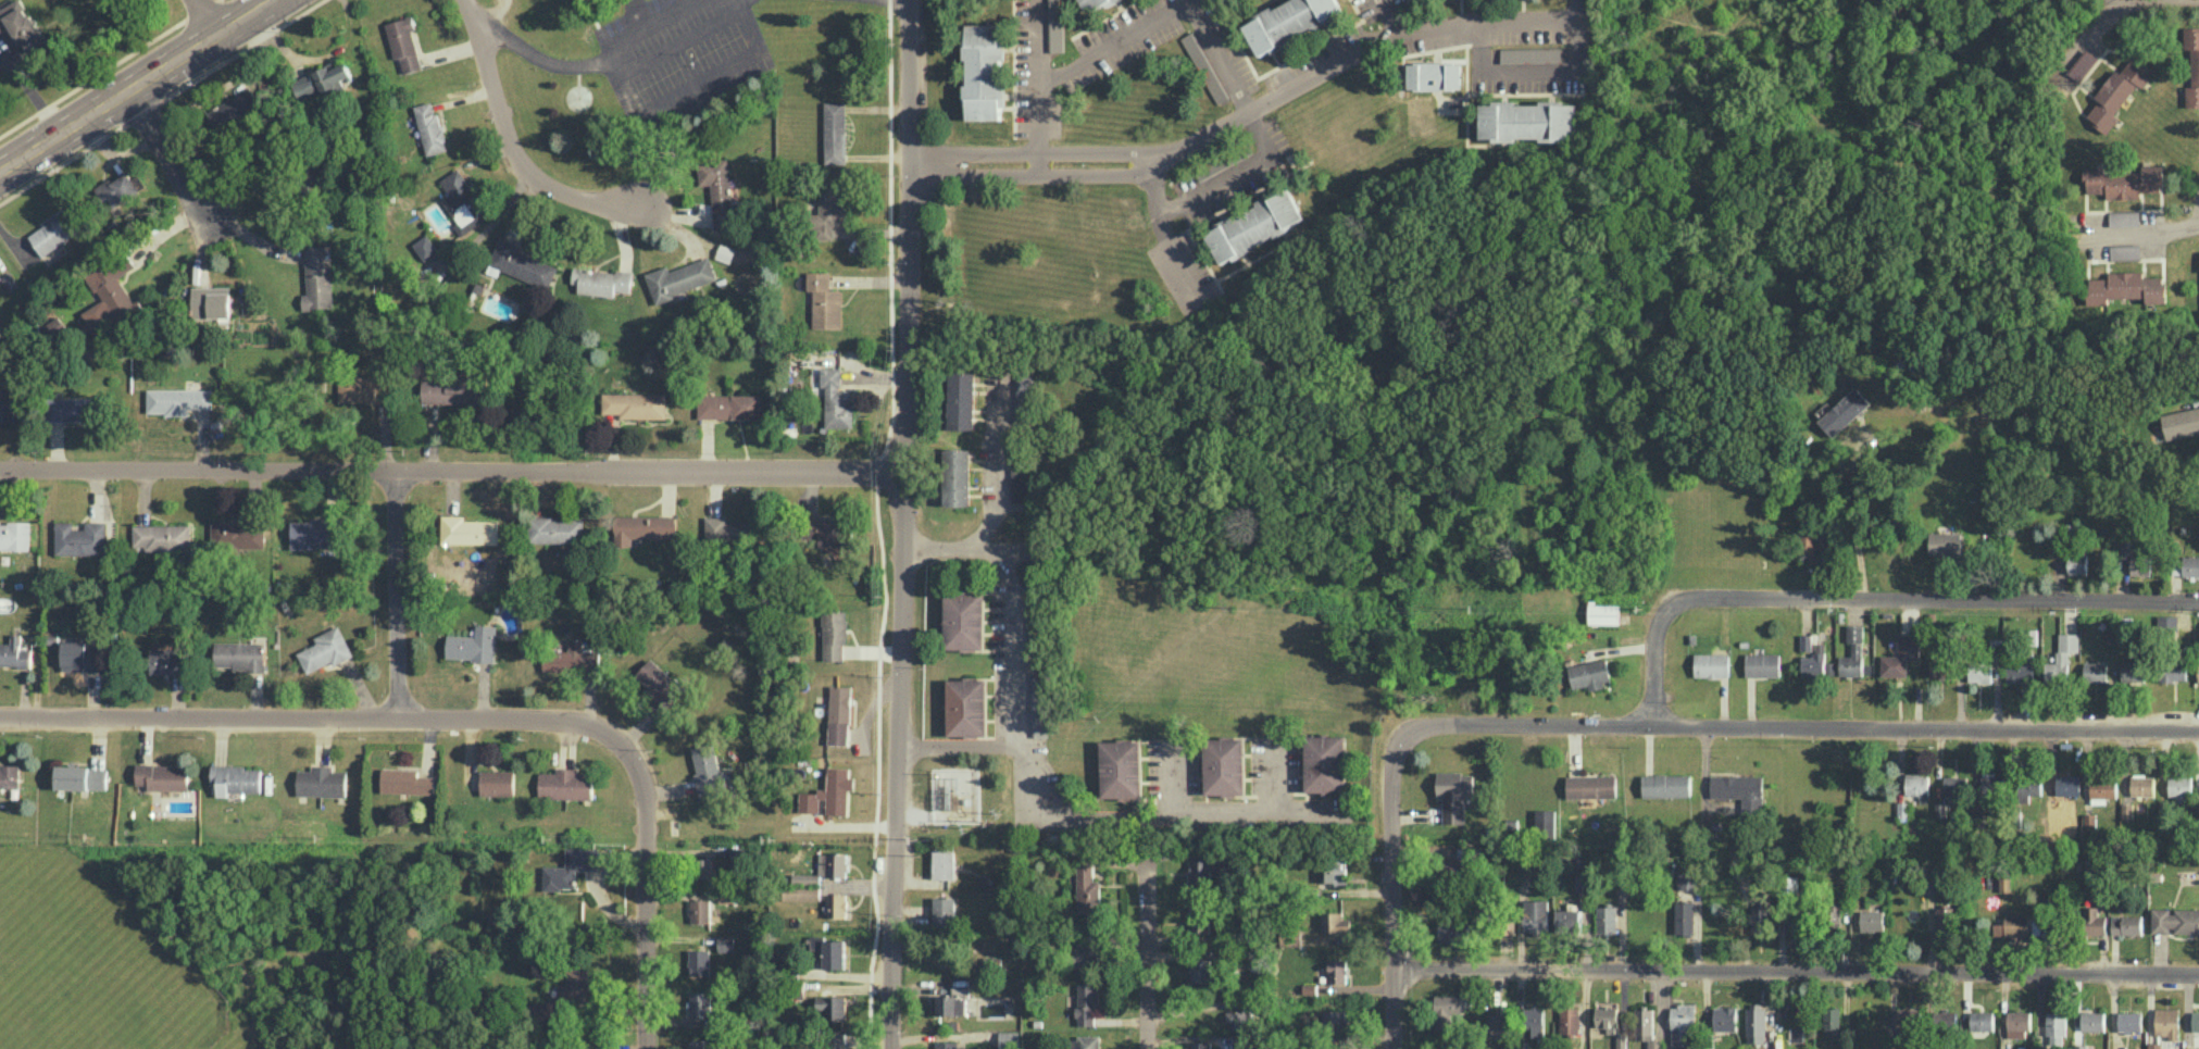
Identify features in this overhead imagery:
building: (1095, 2)
road: (1576, 10)
road: (1171, 11)
road: (639, 13)
road: (203, 15)
road: (1391, 20)
building: (1289, 21)
building: (21, 25)
building: (1055, 25)
building: (403, 42)
road: (2079, 42)
building: (1530, 54)
building: (2082, 64)
building: (2192, 64)
road: (583, 66)
building: (1204, 66)
building: (984, 71)
road: (1328, 73)
building: (1434, 75)
road: (130, 80)
building: (321, 80)
road: (1038, 84)
road: (32, 90)
building: (2116, 92)
building: (234, 109)
building: (1528, 120)
building: (430, 127)
building: (835, 132)
road: (510, 140)
road: (166, 153)
road: (1233, 173)
building: (716, 178)
building: (2123, 182)
building: (120, 189)
building: (463, 202)
building: (830, 212)
building: (2124, 217)
building: (724, 218)
building: (1254, 225)
building: (55, 230)
road: (1167, 232)
road: (2138, 232)
building: (425, 247)
building: (2125, 251)
building: (524, 263)
building: (317, 278)
building: (680, 278)
building: (0, 279)
building: (601, 280)
building: (2126, 287)
building: (111, 299)
building: (824, 300)
building: (212, 301)
building: (54, 326)
building: (452, 389)
building: (1023, 394)
building: (836, 399)
building: (177, 400)
building: (961, 400)
building: (635, 404)
building: (728, 405)
building: (8, 407)
building: (73, 409)
building: (1844, 411)
building: (2181, 422)
road: (452, 471)
building: (957, 476)
building: (1017, 483)
road: (1851, 520)
road: (903, 524)
building: (644, 527)
building: (729, 528)
building: (470, 529)
building: (557, 529)
building: (313, 532)
building: (832, 533)
building: (237, 535)
building: (15, 536)
building: (163, 536)
building: (80, 538)
building: (1945, 542)
road: (945, 548)
building: (2137, 559)
building: (2077, 563)
building: (2186, 566)
road: (398, 595)
road: (1871, 597)
building: (1603, 613)
building: (963, 620)
building: (2167, 621)
building: (835, 634)
building: (473, 644)
building: (325, 649)
building: (13, 652)
building: (1852, 652)
building: (239, 654)
building: (82, 655)
building: (1812, 657)
building: (1900, 657)
building: (2062, 657)
building: (570, 658)
building: (167, 660)
building: (1711, 664)
building: (1762, 664)
building: (1939, 666)
building: (2020, 667)
road: (1012, 671)
building: (2133, 671)
building: (2173, 671)
building: (2095, 672)
building: (1589, 673)
building: (1981, 673)
building: (2198, 673)
building: (658, 683)
building: (966, 707)
building: (1040, 707)
building: (840, 714)
road: (468, 720)
road: (1799, 729)
road: (959, 744)
building: (1324, 763)
building: (1224, 765)
building: (707, 769)
building: (1121, 769)
road: (1273, 774)
building: (10, 776)
building: (162, 776)
building: (80, 777)
building: (236, 778)
road: (1172, 778)
building: (322, 780)
building: (407, 780)
building: (497, 782)
building: (566, 784)
building: (1916, 784)
building: (1991, 784)
building: (2067, 784)
building: (1665, 785)
building: (2142, 785)
building: (2179, 785)
building: (1591, 786)
building: (1954, 786)
building: (2028, 788)
building: (1739, 789)
building: (2102, 789)
building: (830, 792)
building: (1454, 794)
building: (2053, 808)
building: (1545, 823)
building: (942, 864)
building: (1452, 865)
building: (570, 867)
building: (713, 867)
building: (824, 869)
building: (1203, 870)
building: (1336, 871)
building: (1687, 878)
building: (1580, 883)
building: (1790, 883)
building: (2004, 883)
building: (1087, 888)
building: (801, 892)
road: (1392, 894)
building: (726, 897)
building: (836, 906)
building: (944, 910)
building: (700, 911)
building: (1535, 915)
building: (1834, 915)
building: (1684, 916)
building: (1605, 919)
building: (1758, 919)
building: (1569, 920)
building: (1872, 920)
building: (2175, 920)
building: (1198, 921)
building: (2092, 921)
building: (1335, 922)
building: (2126, 924)
building: (2012, 925)
building: (1448, 932)
building: (726, 942)
road: (1146, 944)
building: (830, 951)
building: (1085, 956)
building: (700, 961)
building: (1200, 969)
road: (1797, 969)
building: (1337, 970)
building: (575, 984)
building: (954, 1001)
building: (701, 1003)
building: (1086, 1003)
building: (833, 1006)
building: (1446, 1009)
building: (1725, 1017)
building: (1946, 1017)
building: (1238, 1019)
building: (1570, 1019)
building: (1607, 1019)
building: (1335, 1020)
building: (1535, 1020)
building: (1908, 1020)
building: (1981, 1020)
building: (2092, 1020)
building: (2129, 1021)
building: (2196, 1021)
building: (1831, 1022)
building: (2167, 1022)
building: (1754, 1023)
building: (2017, 1023)
building: (1682, 1024)
building: (1497, 1025)
building: (2056, 1026)
building: (1646, 1027)
building: (1009, 1039)
building: (1085, 1041)
building: (1240, 1041)
building: (1621, 1041)
building: (701, 1044)
building: (947, 1045)
building: (1201, 1045)
building: (2154, 1045)
building: (2191, 1047)
building: (832, 1048)

